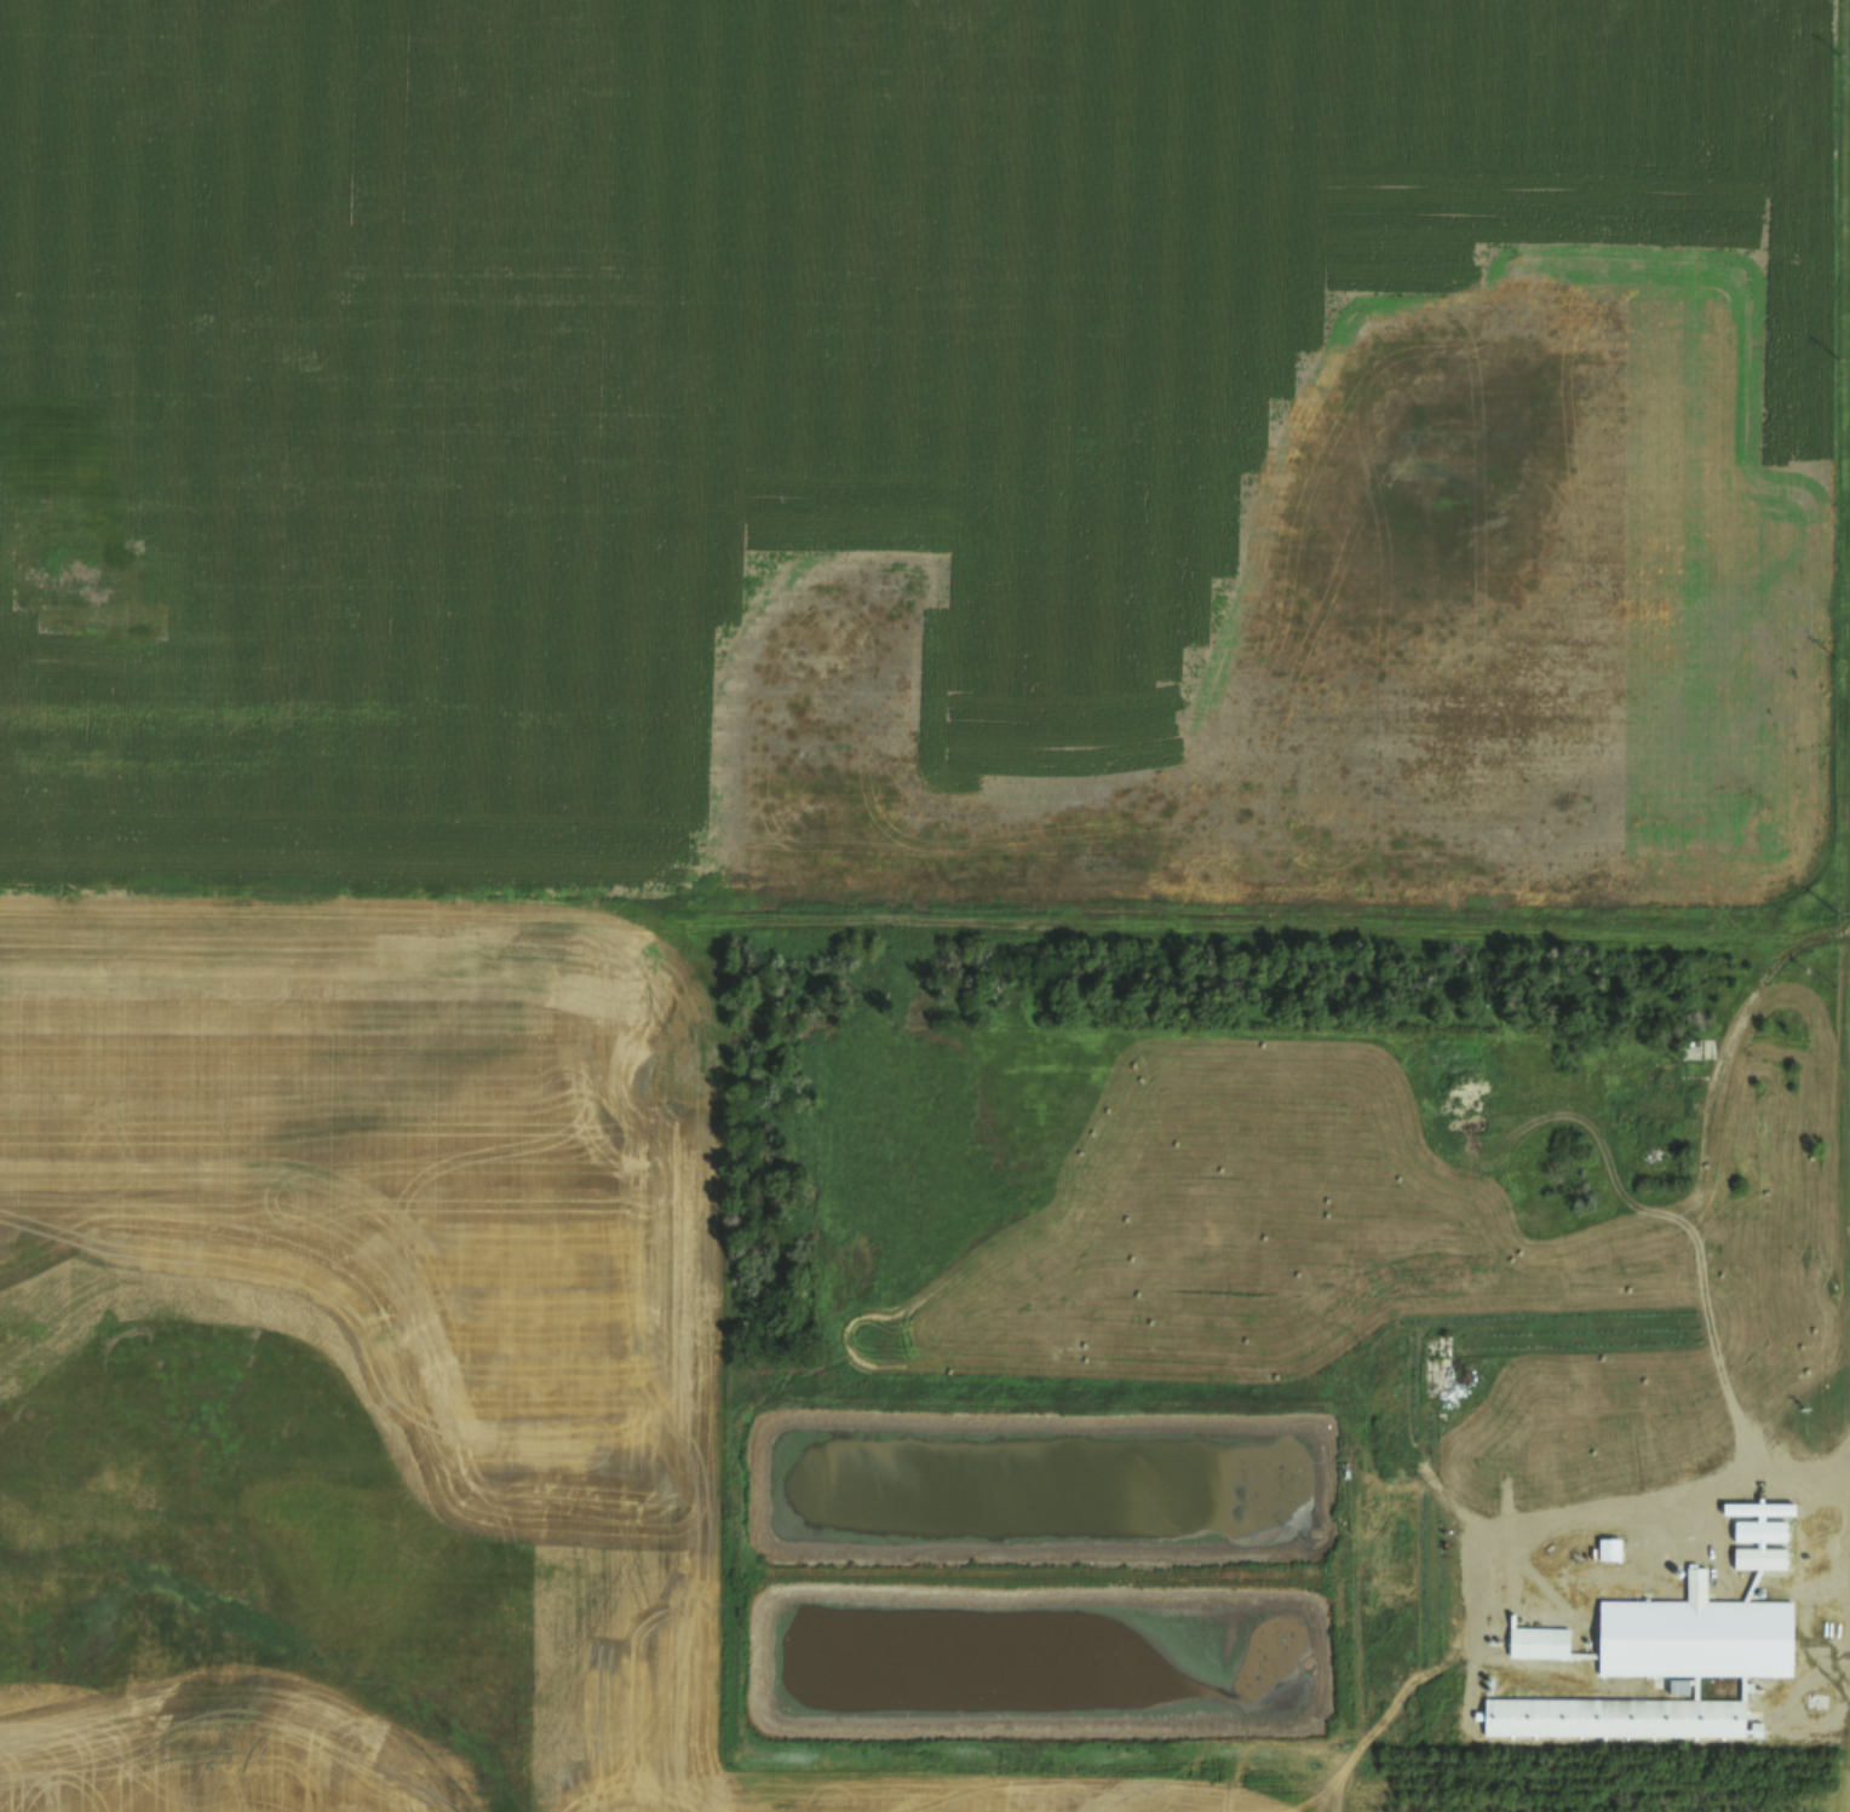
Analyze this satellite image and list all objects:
building: (1673, 1068)
building: (1753, 1544)
building: (1604, 1548)
building: (1699, 1634)
building: (1530, 1643)
building: (1674, 1719)

